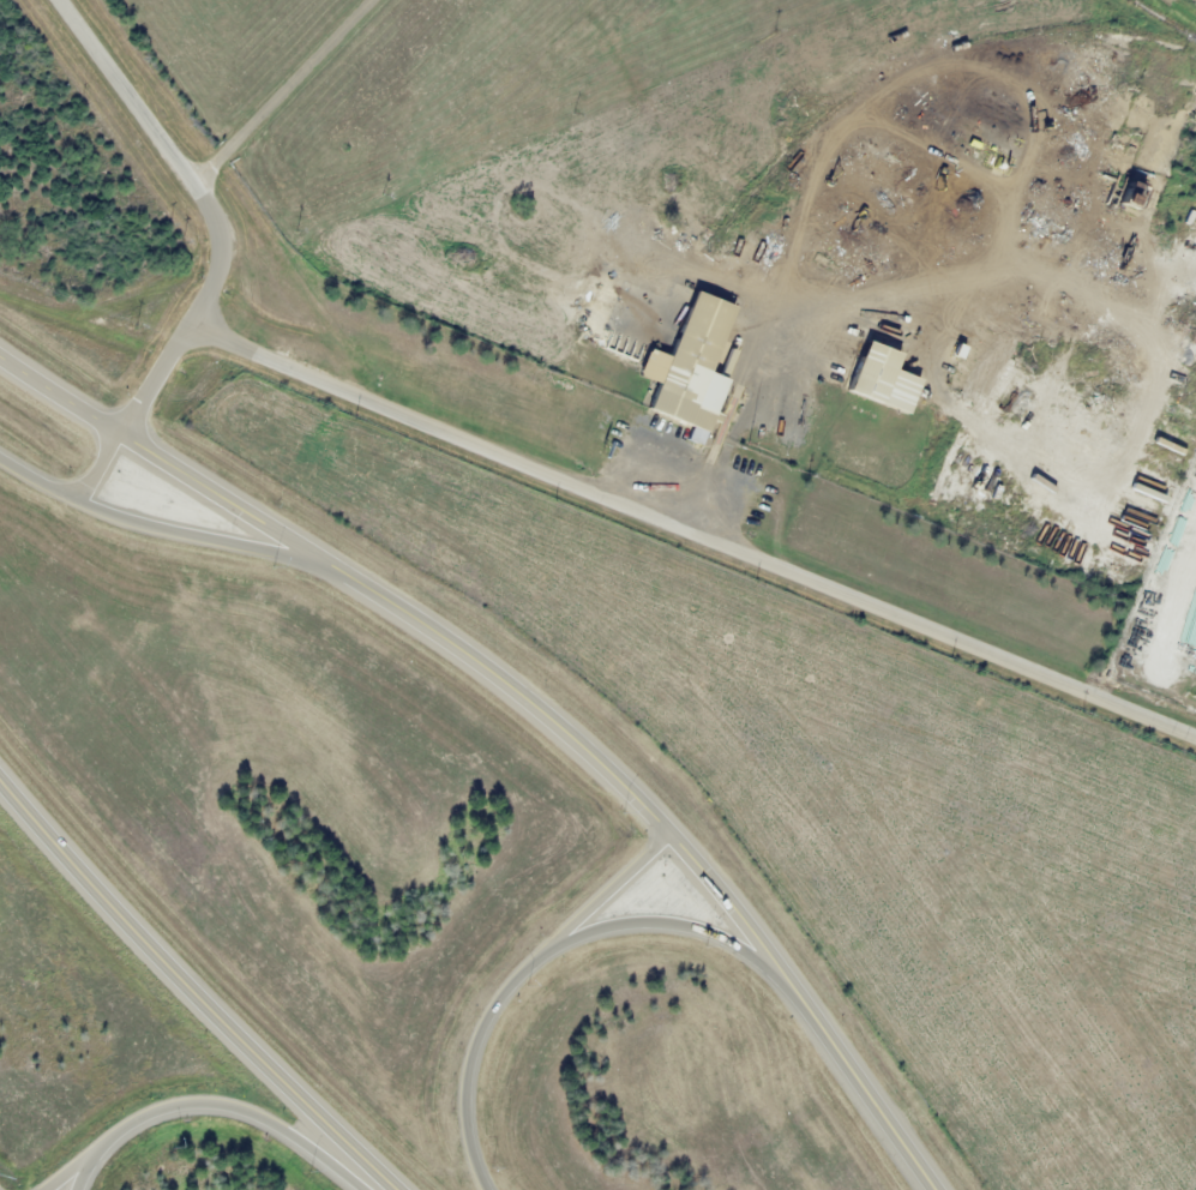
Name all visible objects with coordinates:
road: (282, 91)
road: (209, 208)
building: (686, 367)
building: (869, 372)
road: (166, 461)
road: (96, 468)
road: (160, 525)
road: (692, 534)
road: (584, 749)
road: (608, 891)
road: (673, 922)
road: (192, 991)
road: (469, 1058)
road: (861, 1087)
road: (210, 1105)
road: (70, 1168)

